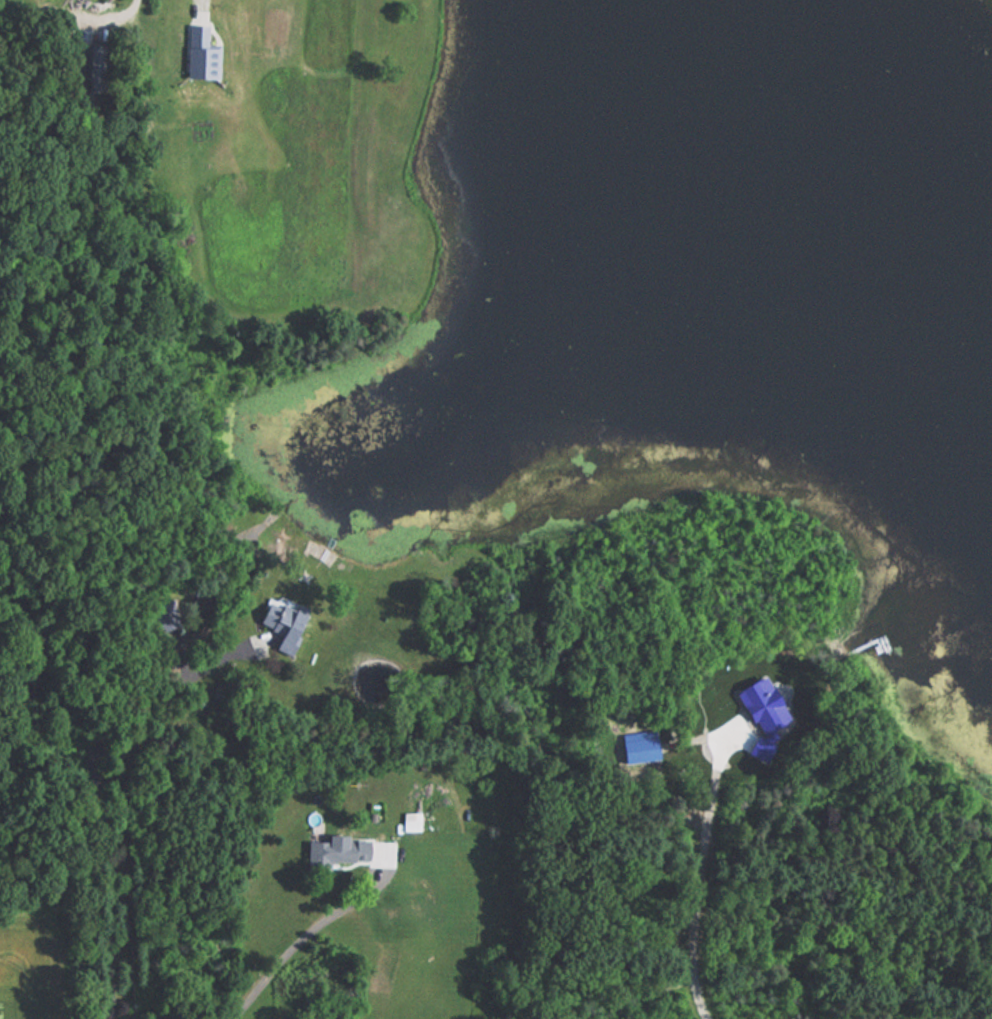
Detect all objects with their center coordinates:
road: (98, 798)
building: (410, 820)
building: (333, 852)
road: (704, 883)
road: (306, 937)

